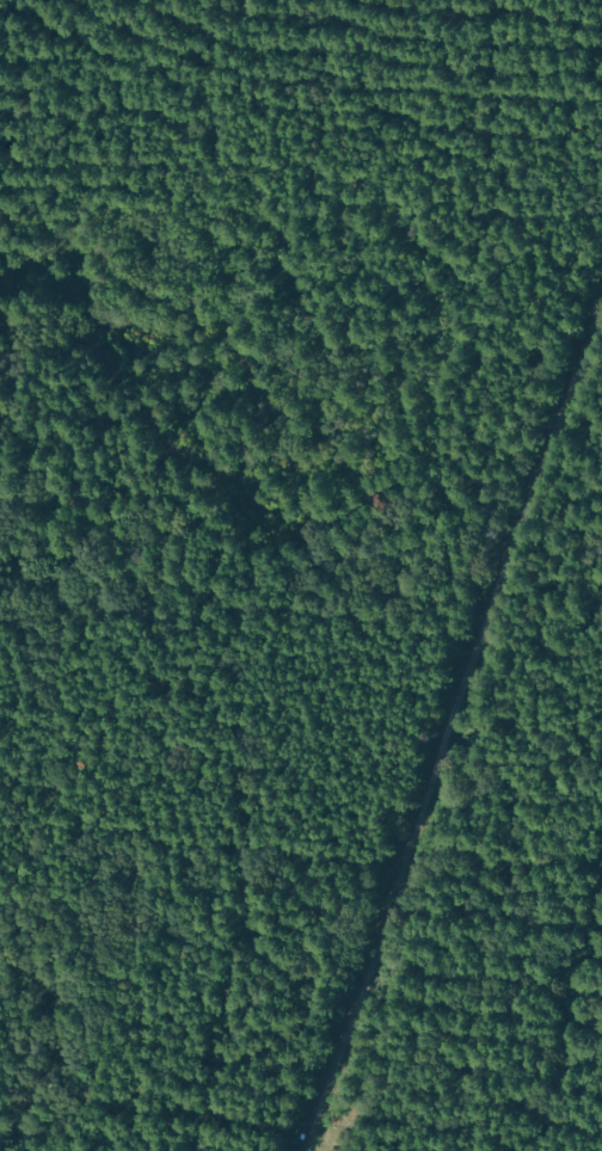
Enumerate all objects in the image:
road: (450, 733)

